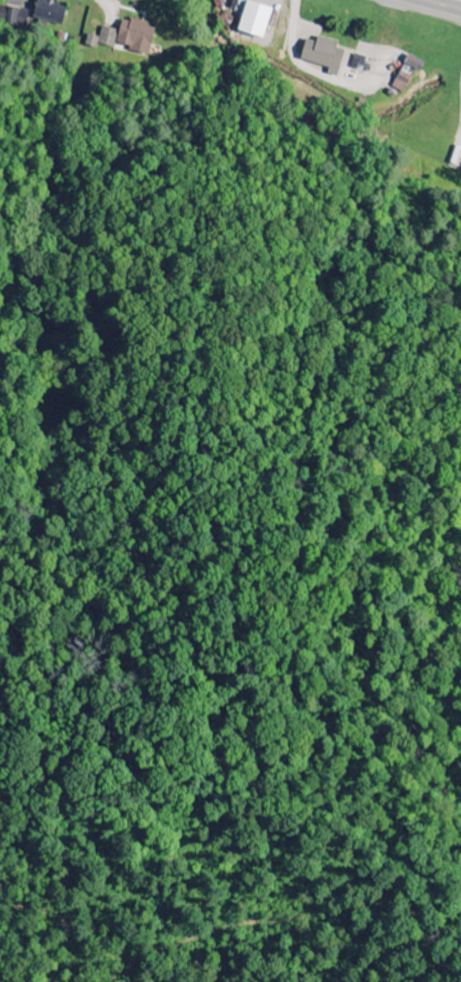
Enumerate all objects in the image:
road: (444, 4)
building: (49, 12)
building: (254, 19)
building: (124, 36)
building: (322, 53)
building: (358, 62)
building: (406, 74)

